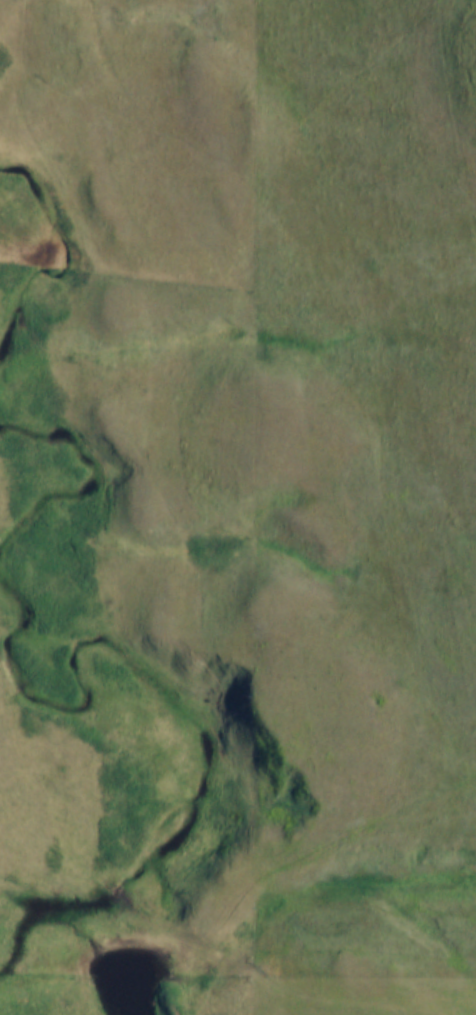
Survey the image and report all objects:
road: (225, 957)
road: (308, 1013)

